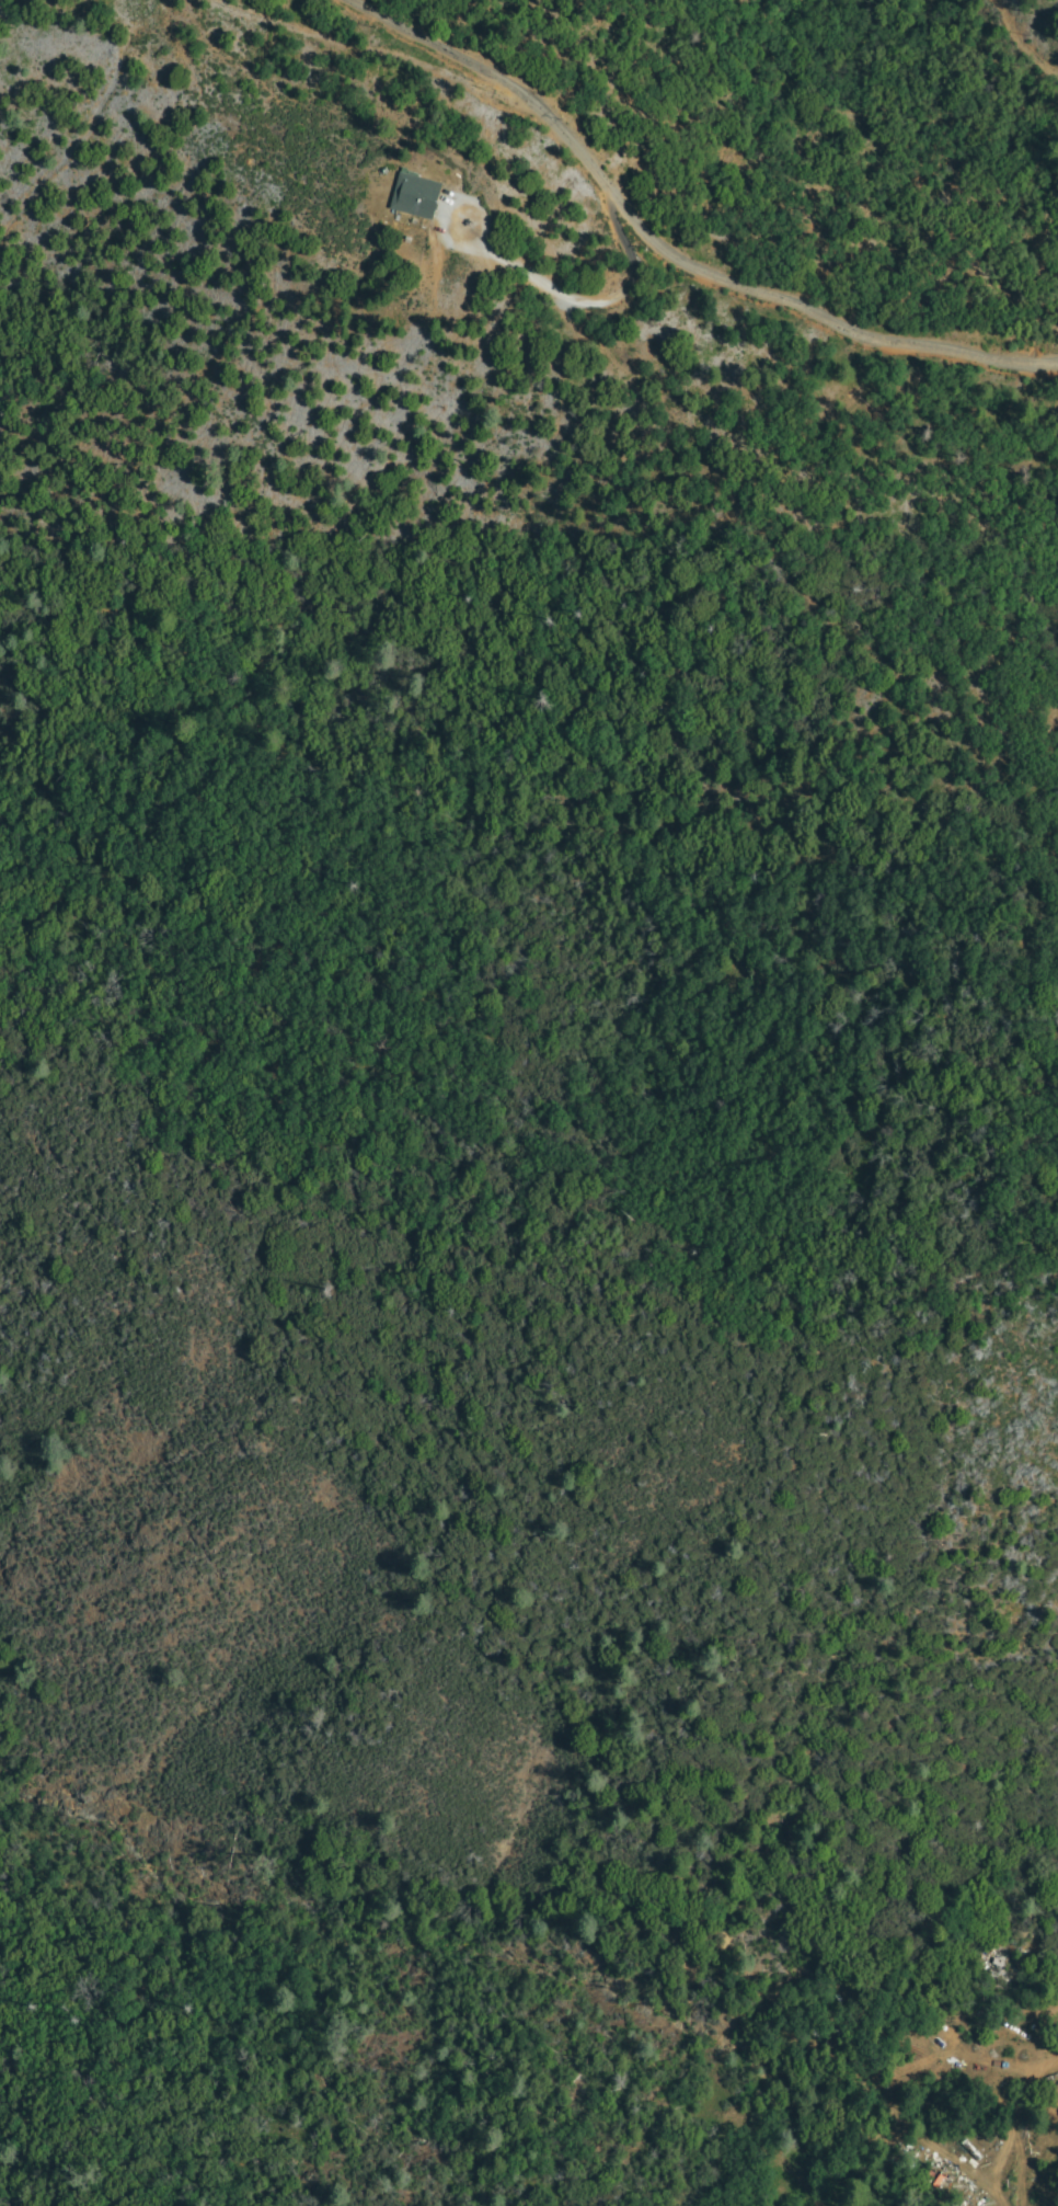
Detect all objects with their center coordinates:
building: (416, 195)
road: (666, 248)

